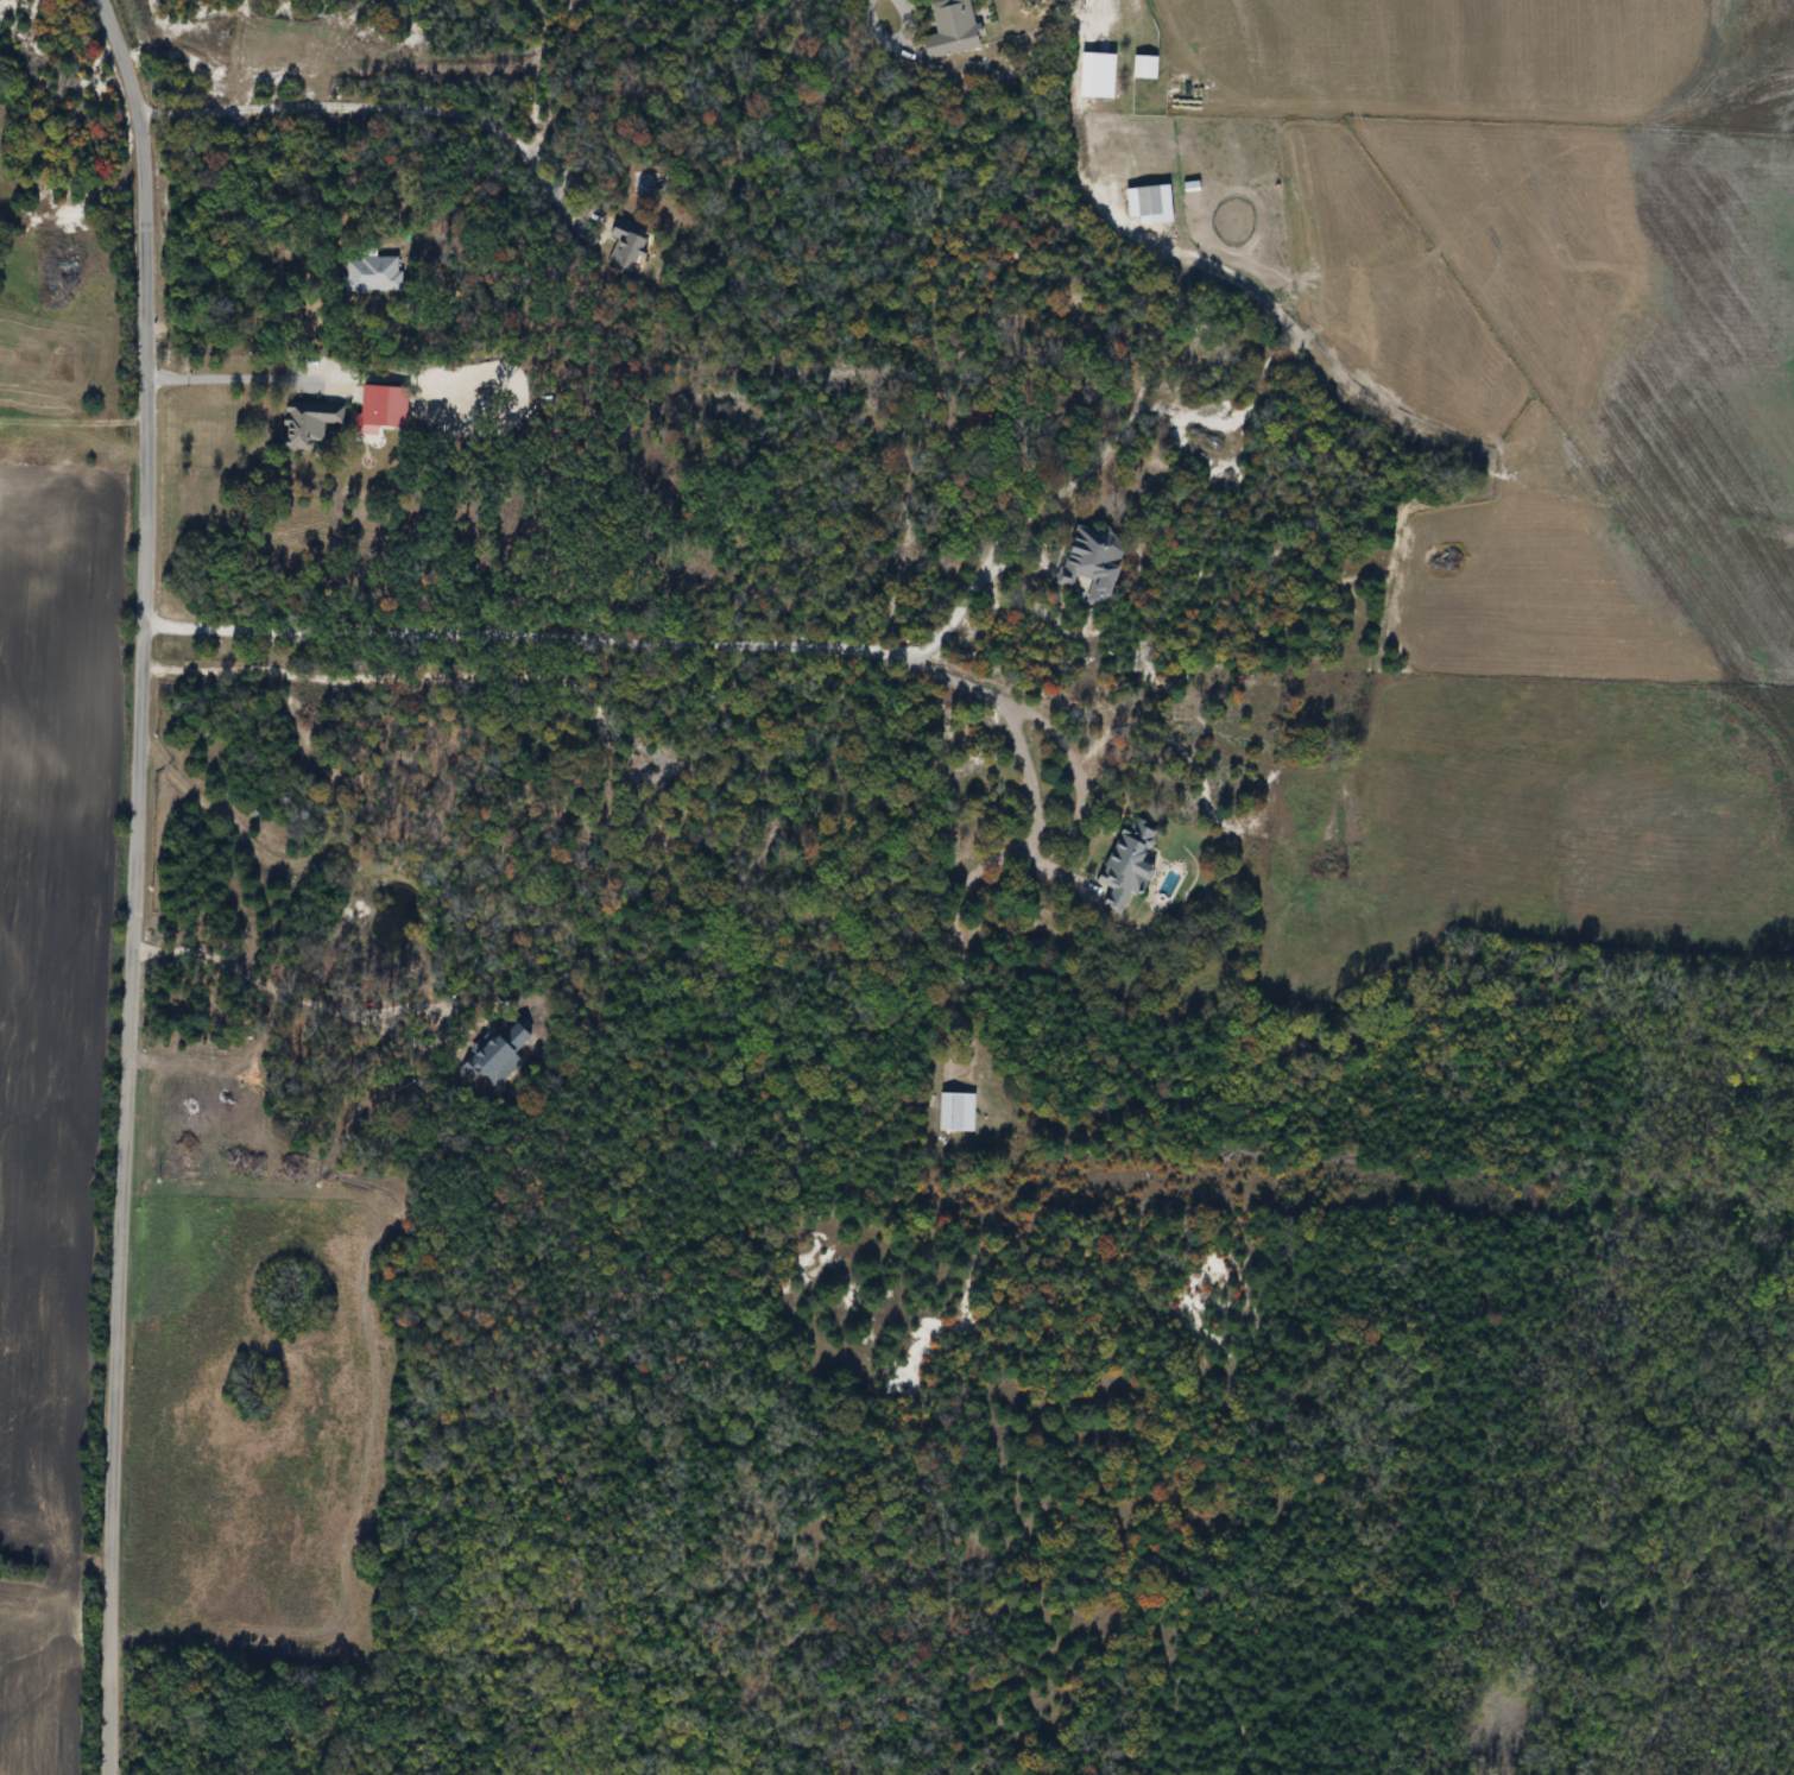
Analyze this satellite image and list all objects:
road: (1103, 18)
building: (955, 29)
road: (872, 30)
building: (1149, 67)
building: (1107, 76)
road: (427, 106)
building: (1152, 200)
building: (631, 246)
building: (373, 274)
road: (234, 379)
road: (1137, 411)
building: (310, 424)
building: (1095, 562)
road: (735, 639)
building: (1131, 863)
road: (133, 884)
building: (959, 1112)

